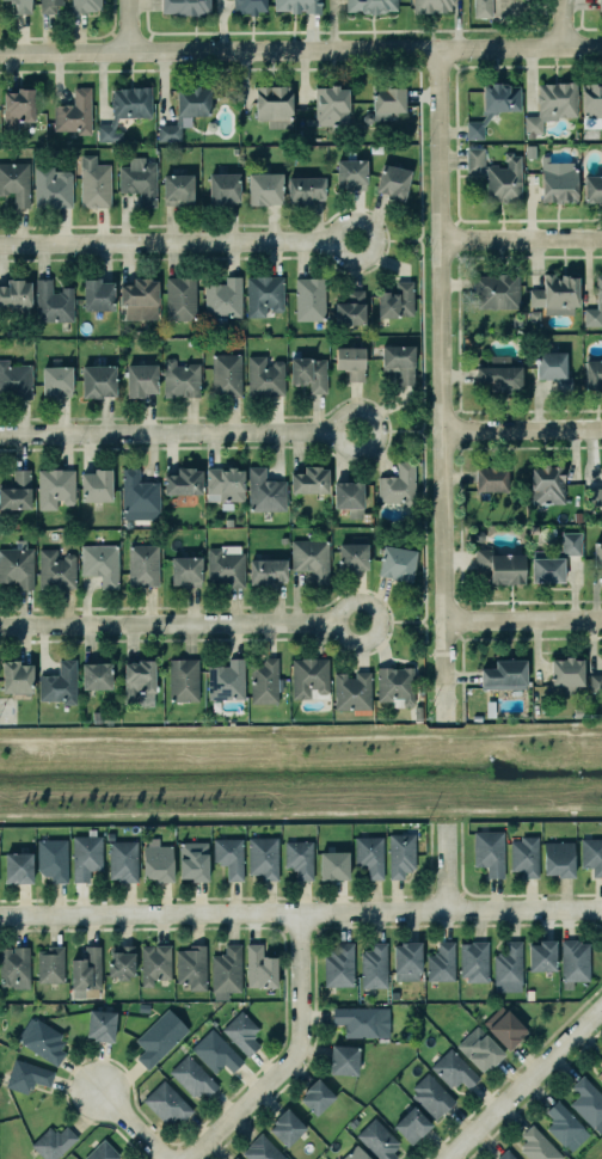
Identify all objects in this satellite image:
building: (85, 5)
building: (600, 5)
building: (21, 6)
building: (48, 6)
building: (250, 6)
building: (297, 6)
building: (370, 6)
building: (430, 6)
building: (185, 7)
building: (483, 8)
road: (561, 24)
road: (127, 25)
road: (301, 51)
building: (500, 96)
building: (591, 98)
building: (385, 103)
building: (552, 103)
building: (17, 106)
building: (275, 106)
building: (331, 106)
building: (125, 110)
building: (185, 111)
building: (74, 114)
building: (475, 129)
building: (530, 151)
building: (351, 174)
building: (497, 174)
building: (139, 180)
building: (393, 182)
building: (16, 183)
building: (93, 183)
building: (559, 184)
building: (592, 188)
building: (51, 189)
building: (178, 189)
building: (223, 189)
building: (265, 189)
building: (305, 190)
road: (518, 240)
road: (395, 241)
road: (177, 244)
building: (598, 288)
building: (497, 290)
building: (16, 293)
building: (98, 294)
building: (263, 294)
building: (557, 294)
building: (179, 298)
building: (222, 298)
building: (140, 299)
building: (309, 299)
building: (397, 300)
building: (51, 302)
building: (350, 307)
building: (534, 314)
building: (189, 343)
building: (351, 361)
building: (399, 361)
building: (552, 364)
building: (308, 373)
building: (500, 373)
building: (594, 374)
building: (226, 375)
building: (264, 376)
building: (140, 379)
building: (180, 379)
building: (14, 380)
building: (97, 380)
building: (56, 381)
road: (437, 387)
road: (520, 430)
road: (398, 431)
road: (178, 434)
building: (491, 478)
building: (309, 480)
building: (183, 482)
building: (225, 483)
building: (547, 484)
building: (96, 485)
building: (398, 485)
building: (55, 487)
building: (16, 491)
building: (264, 491)
building: (139, 496)
building: (595, 496)
building: (349, 497)
building: (283, 540)
building: (597, 554)
building: (352, 556)
building: (309, 558)
building: (554, 559)
building: (99, 563)
building: (398, 563)
building: (142, 564)
building: (17, 565)
building: (500, 565)
building: (225, 568)
building: (55, 570)
building: (185, 570)
building: (268, 571)
road: (521, 620)
road: (399, 621)
road: (179, 624)
building: (567, 672)
building: (504, 674)
building: (96, 675)
building: (308, 676)
building: (17, 677)
building: (139, 679)
building: (183, 680)
building: (226, 680)
building: (264, 681)
building: (59, 682)
building: (395, 683)
building: (595, 683)
building: (352, 691)
road: (462, 703)
building: (490, 709)
building: (579, 712)
building: (418, 713)
building: (475, 717)
road: (429, 724)
road: (467, 731)
road: (539, 732)
road: (457, 736)
road: (348, 737)
road: (50, 741)
road: (178, 741)
park: (299, 773)
road: (536, 807)
road: (451, 808)
road: (328, 810)
road: (112, 811)
building: (489, 852)
building: (400, 854)
building: (229, 856)
building: (369, 856)
building: (524, 856)
building: (591, 856)
building: (86, 857)
building: (263, 857)
building: (53, 858)
building: (299, 858)
building: (558, 859)
building: (122, 860)
building: (156, 860)
building: (193, 860)
building: (333, 865)
building: (18, 867)
road: (446, 869)
road: (300, 912)
building: (541, 955)
building: (575, 959)
building: (406, 961)
building: (474, 961)
building: (122, 962)
building: (441, 962)
building: (154, 963)
building: (50, 964)
building: (338, 965)
building: (374, 965)
building: (14, 967)
building: (191, 967)
building: (259, 967)
building: (85, 968)
building: (508, 968)
building: (227, 970)
building: (25, 994)
building: (529, 994)
building: (394, 995)
building: (185, 1006)
building: (357, 1020)
building: (100, 1024)
building: (504, 1026)
building: (241, 1032)
building: (42, 1040)
building: (155, 1041)
building: (479, 1048)
building: (215, 1051)
road: (289, 1056)
building: (344, 1059)
building: (600, 1062)
building: (454, 1068)
building: (26, 1075)
building: (192, 1077)
building: (600, 1077)
road: (523, 1083)
building: (317, 1096)
building: (431, 1096)
building: (586, 1102)
building: (167, 1103)
road: (128, 1124)
building: (411, 1124)
building: (565, 1126)
building: (287, 1127)
building: (377, 1140)
building: (53, 1142)
building: (537, 1146)
building: (260, 1149)
building: (102, 1152)
building: (355, 1153)
building: (506, 1155)
building: (234, 1158)

